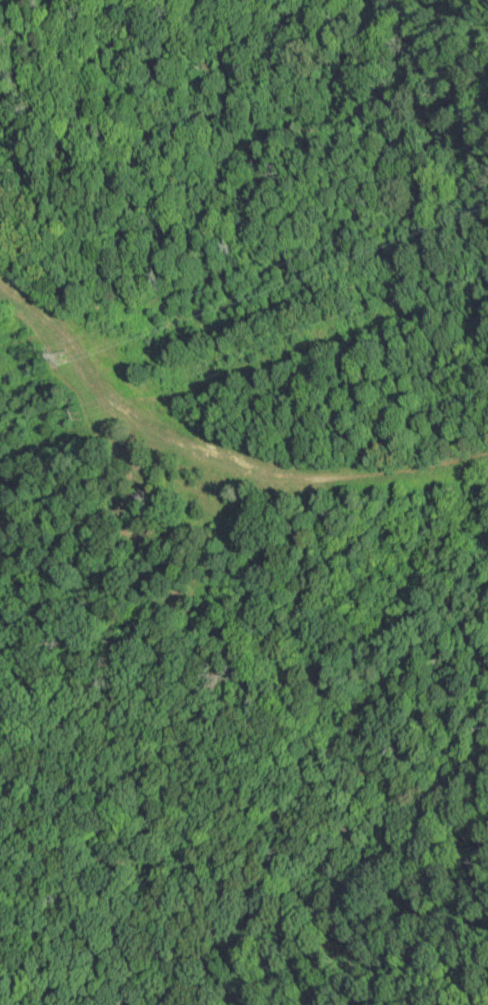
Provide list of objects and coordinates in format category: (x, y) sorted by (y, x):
power tower: (37, 362)
road: (123, 397)
power tower: (78, 414)

